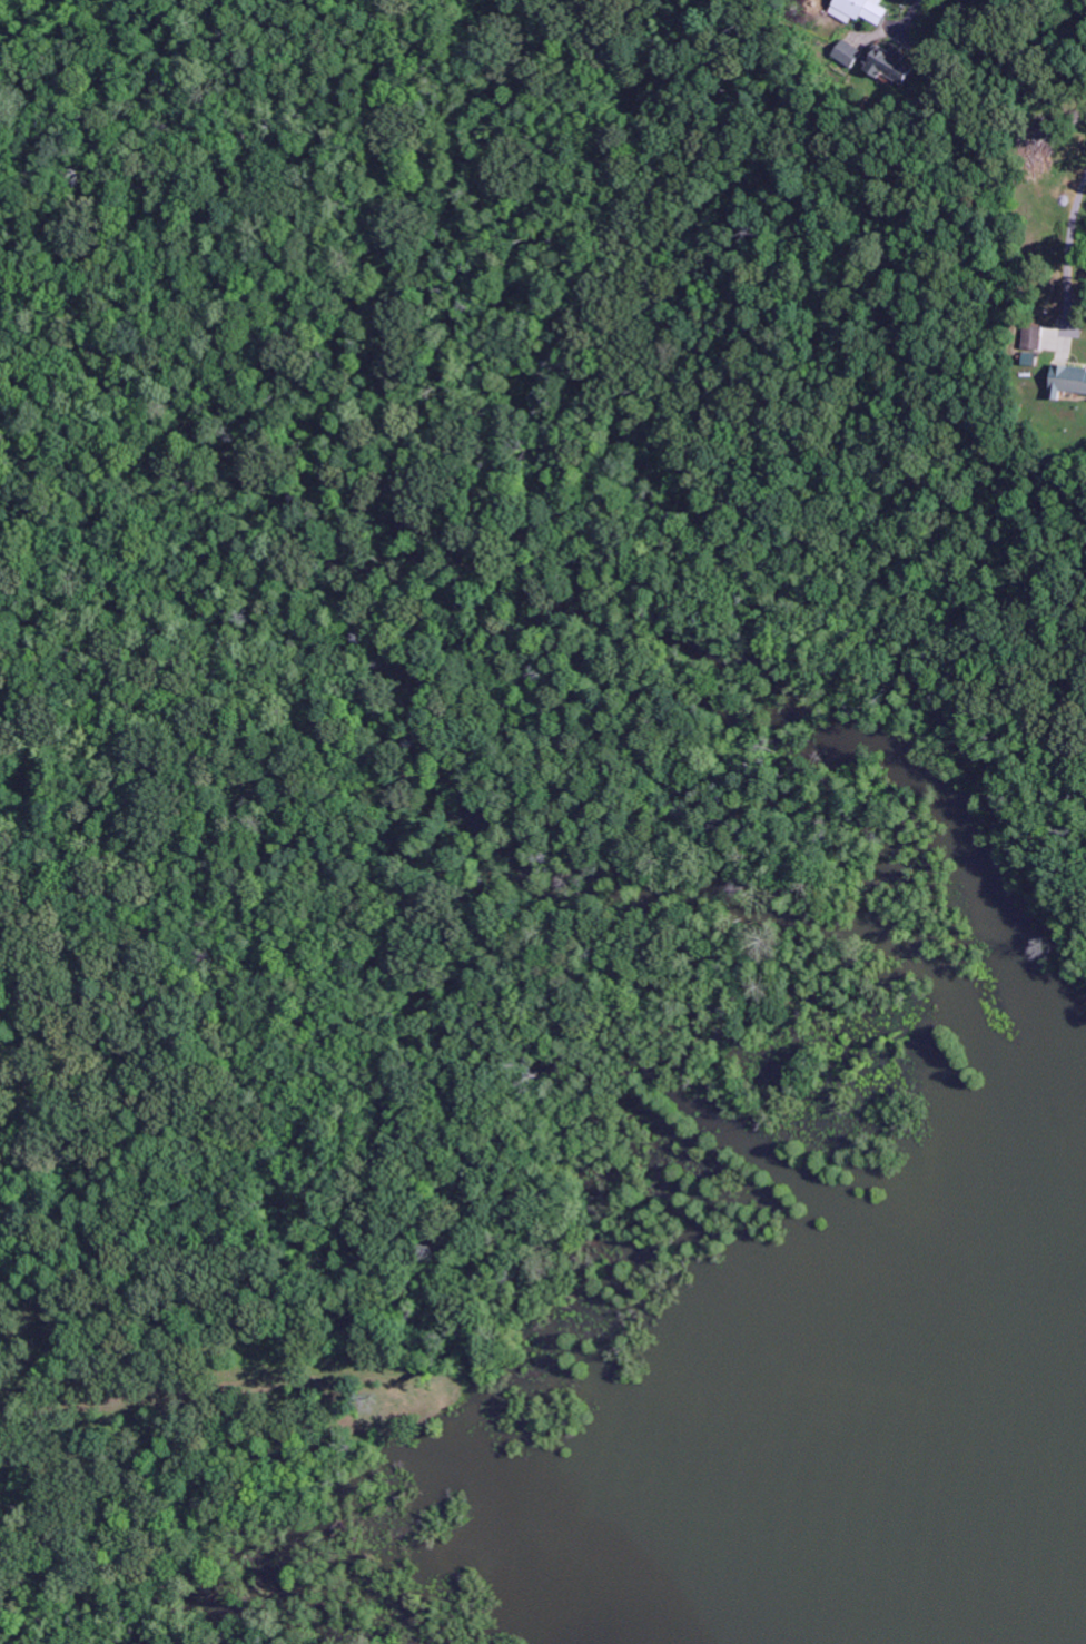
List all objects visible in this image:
building: (856, 10)
building: (843, 52)
building: (885, 65)
building: (1030, 337)
building: (1028, 360)
building: (1066, 380)

